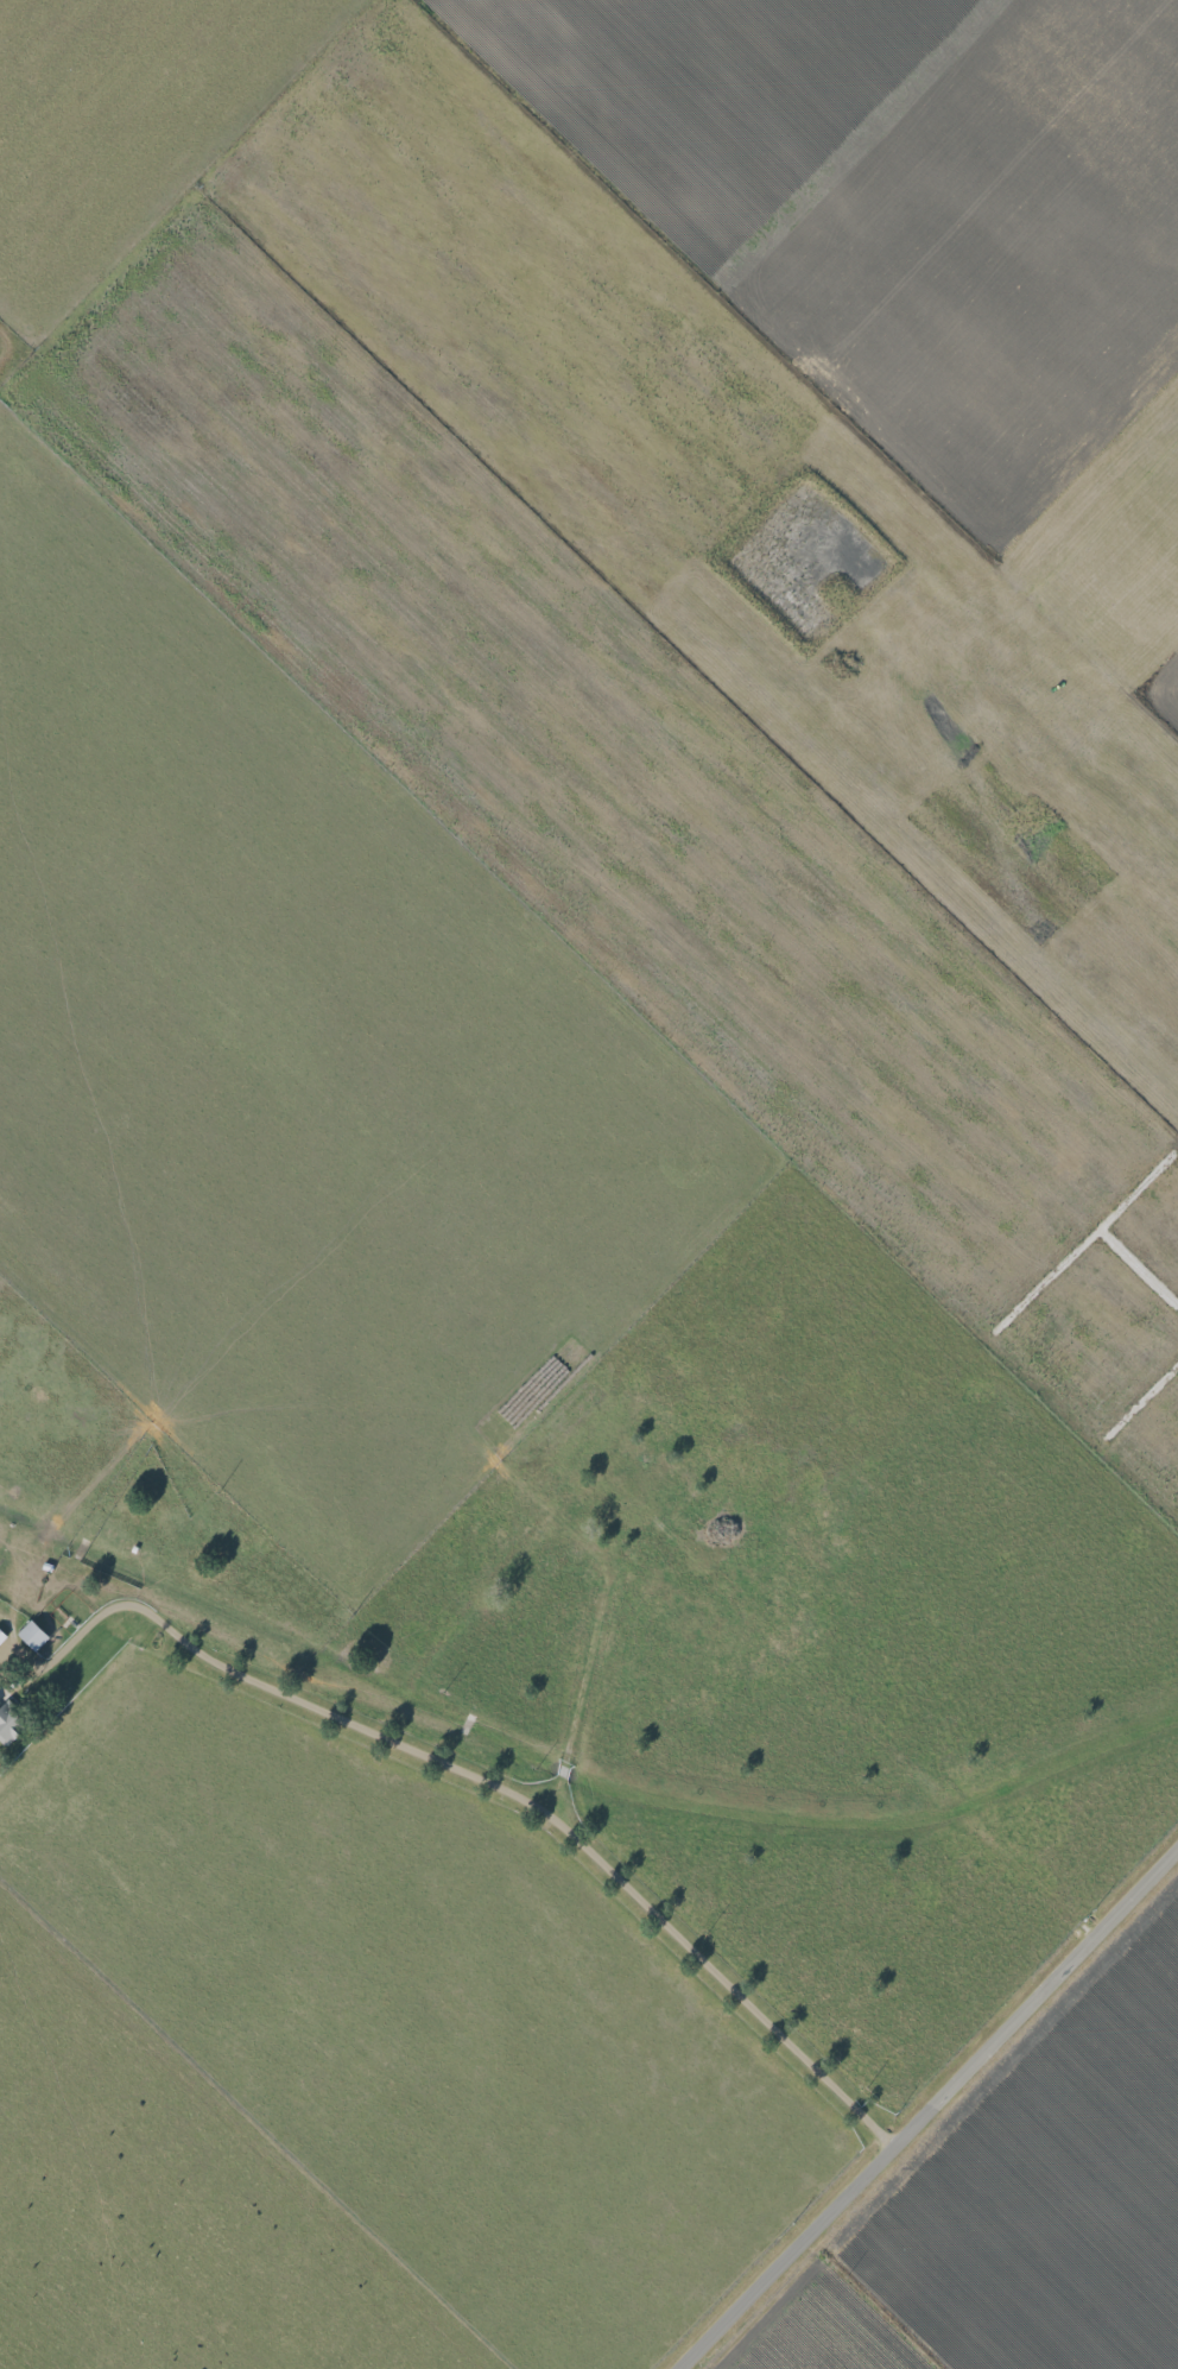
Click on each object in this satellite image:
road: (194, 201)
building: (31, 1635)
building: (1, 1636)
building: (8, 1723)
road: (500, 1792)
road: (929, 2109)
road: (868, 2305)

